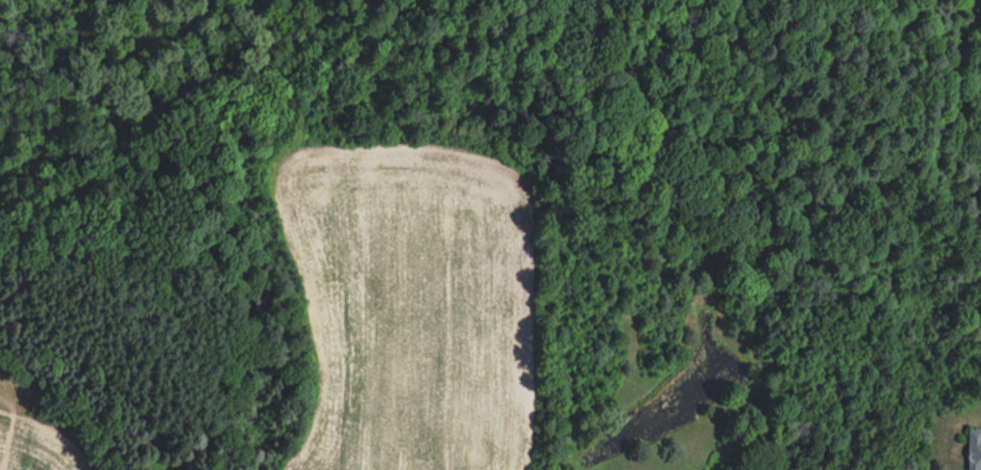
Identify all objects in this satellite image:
building: (973, 449)

